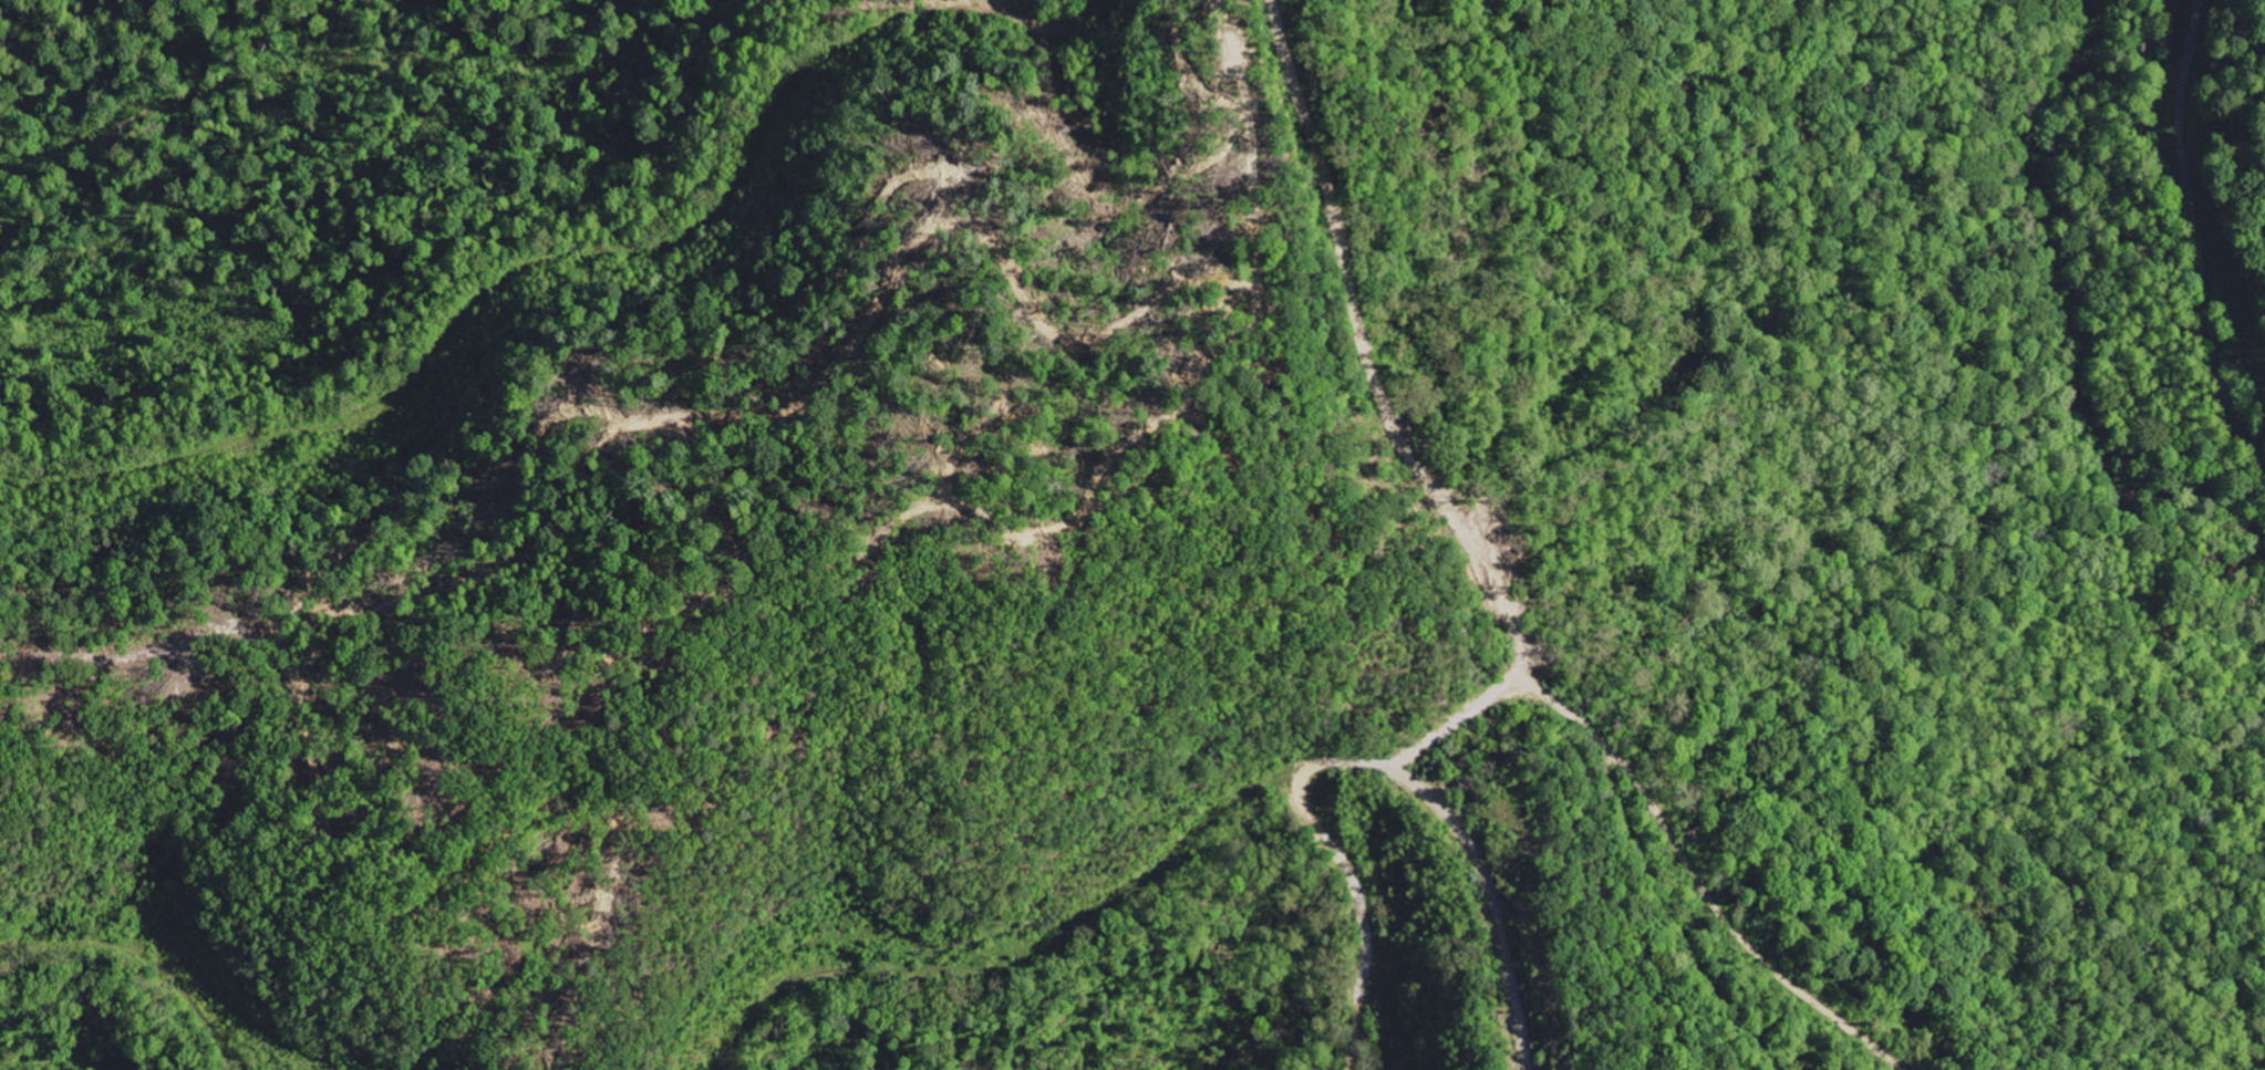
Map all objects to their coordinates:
road: (2196, 231)
road: (1521, 688)

